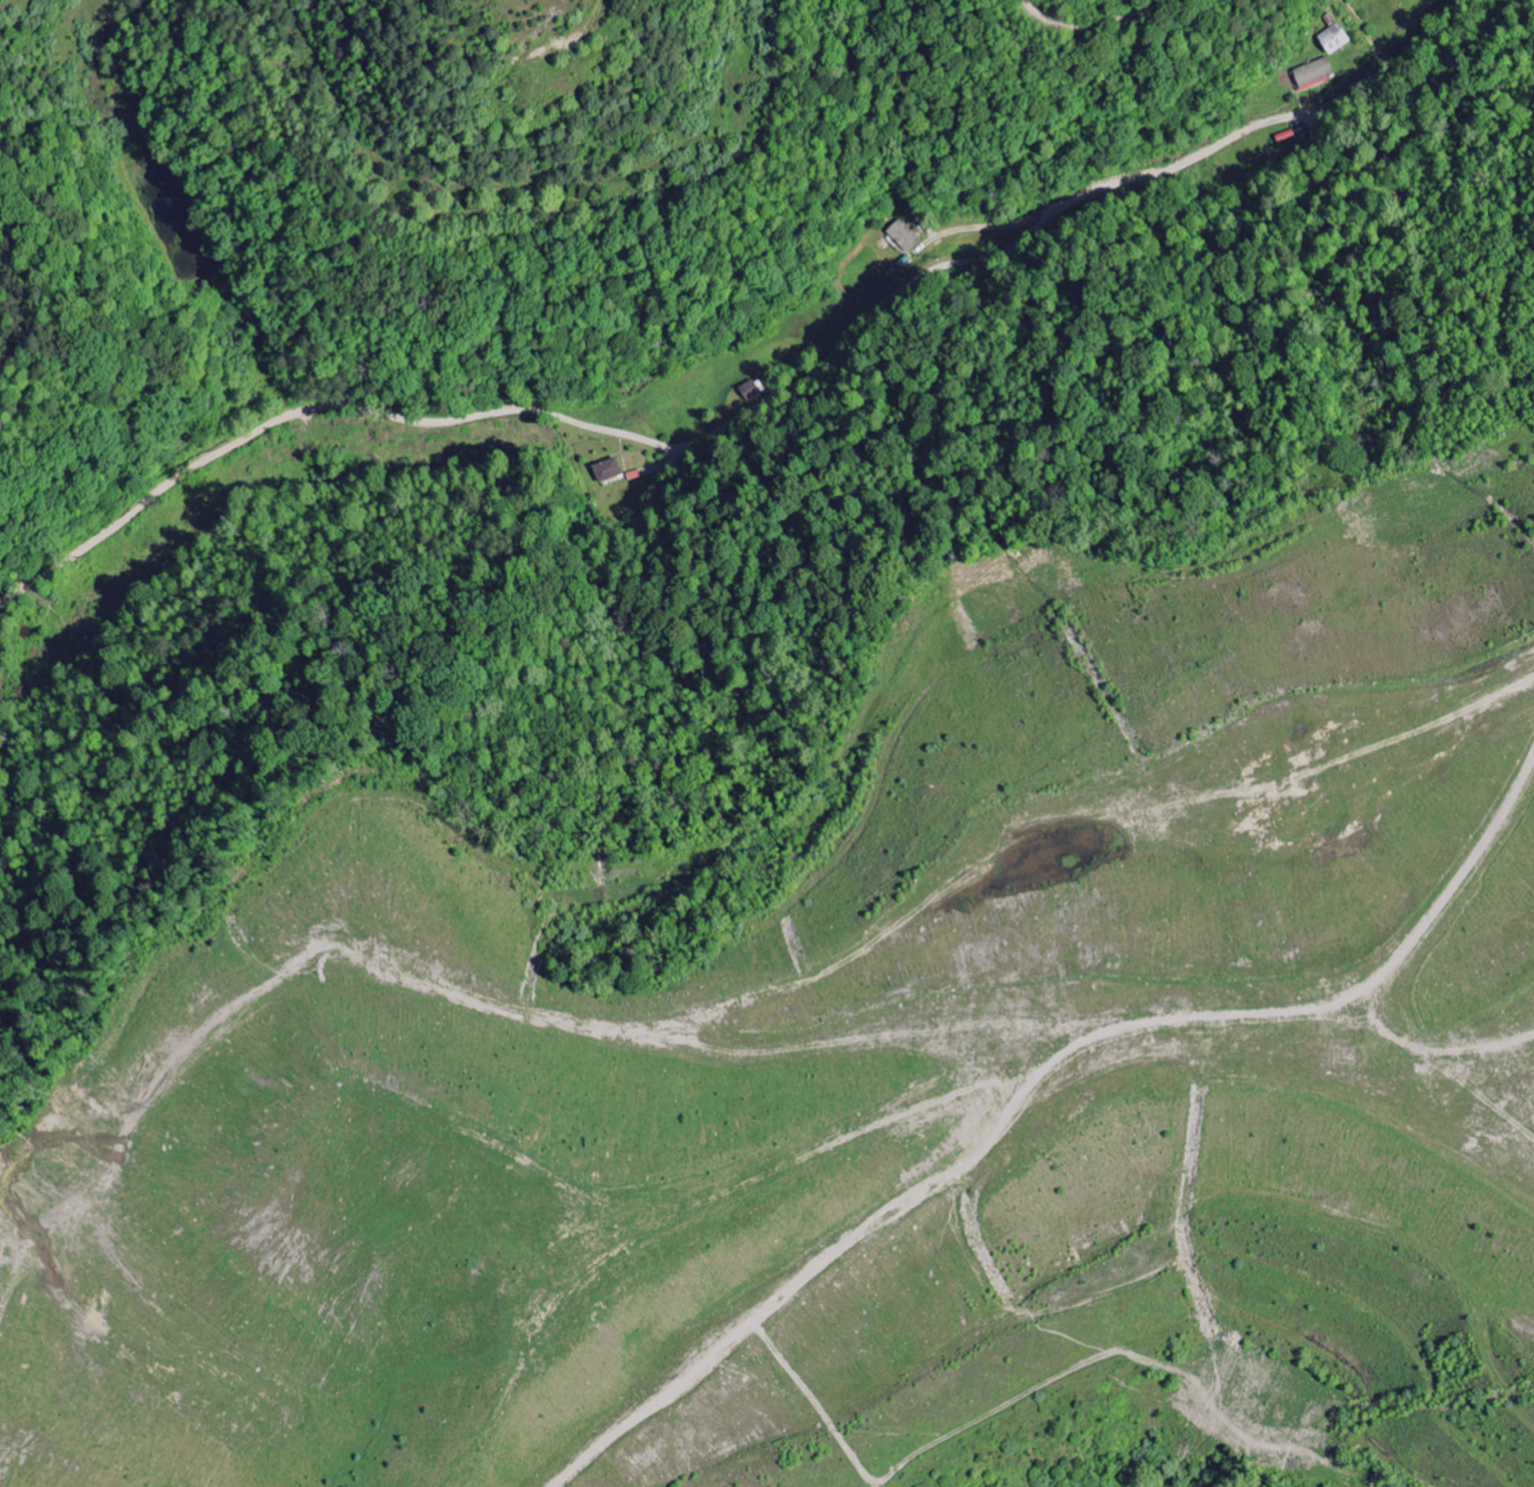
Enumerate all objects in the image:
building: (1334, 40)
building: (1314, 73)
building: (903, 237)
building: (750, 392)
road: (746, 415)
building: (608, 470)
quarry: (855, 996)

